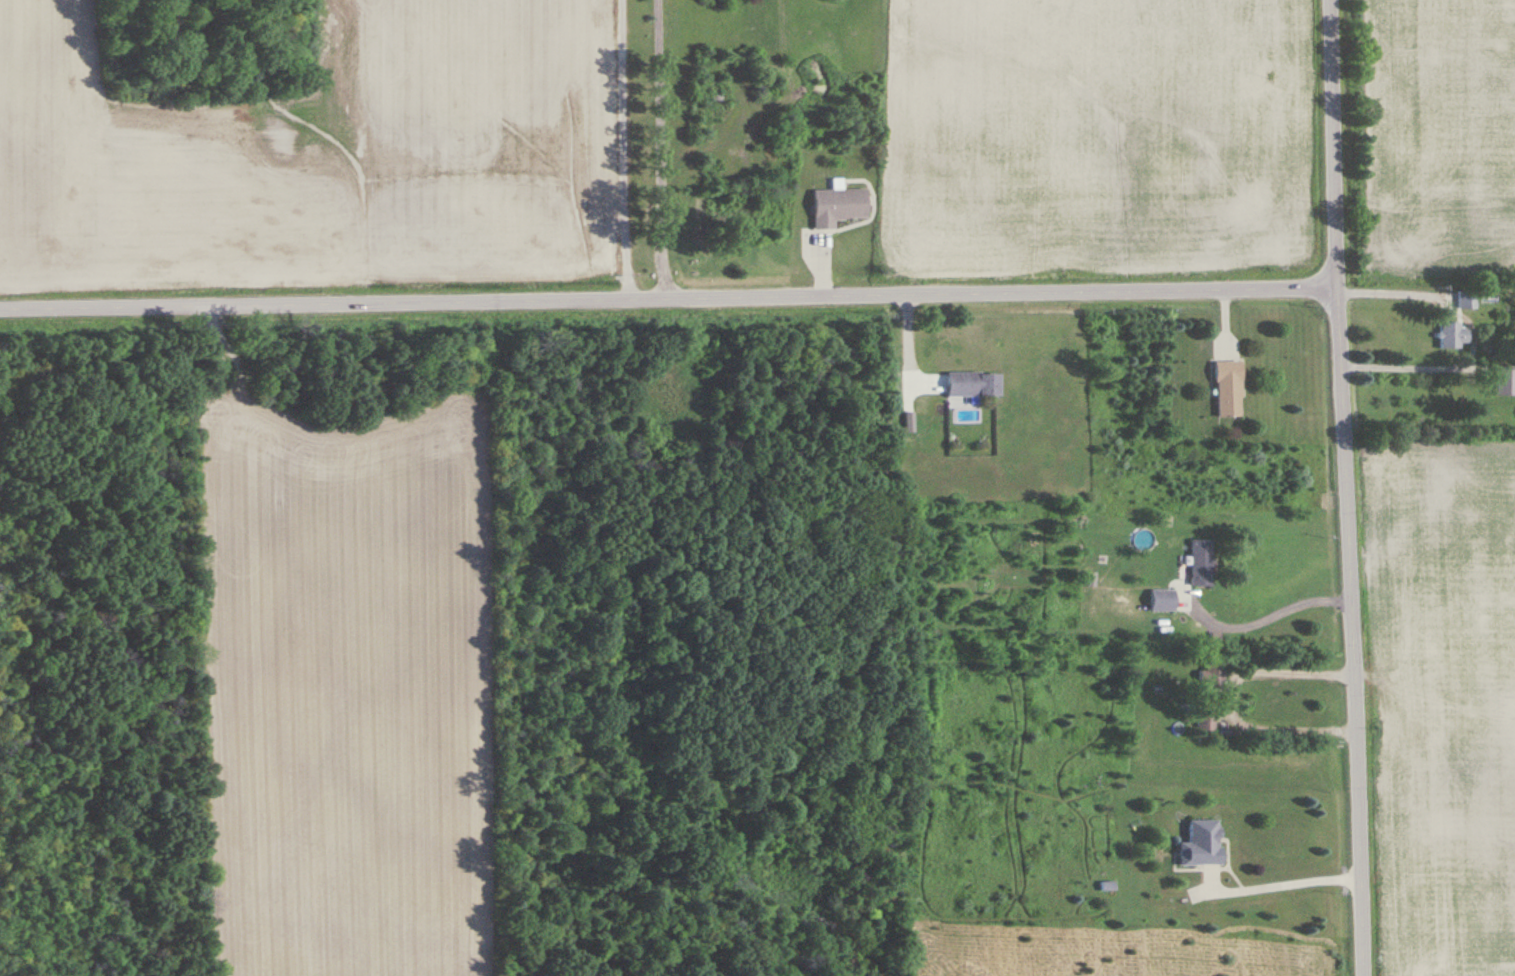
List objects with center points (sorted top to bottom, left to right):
road: (606, 149)
road: (661, 149)
building: (838, 205)
road: (670, 297)
building: (1468, 299)
building: (1454, 335)
road: (1475, 336)
building: (973, 384)
building: (1229, 389)
road: (1347, 488)
building: (1202, 562)
building: (1163, 600)
road: (1261, 622)
building: (1215, 669)
road: (1232, 700)
building: (1207, 719)
building: (1203, 843)
road: (1278, 881)

